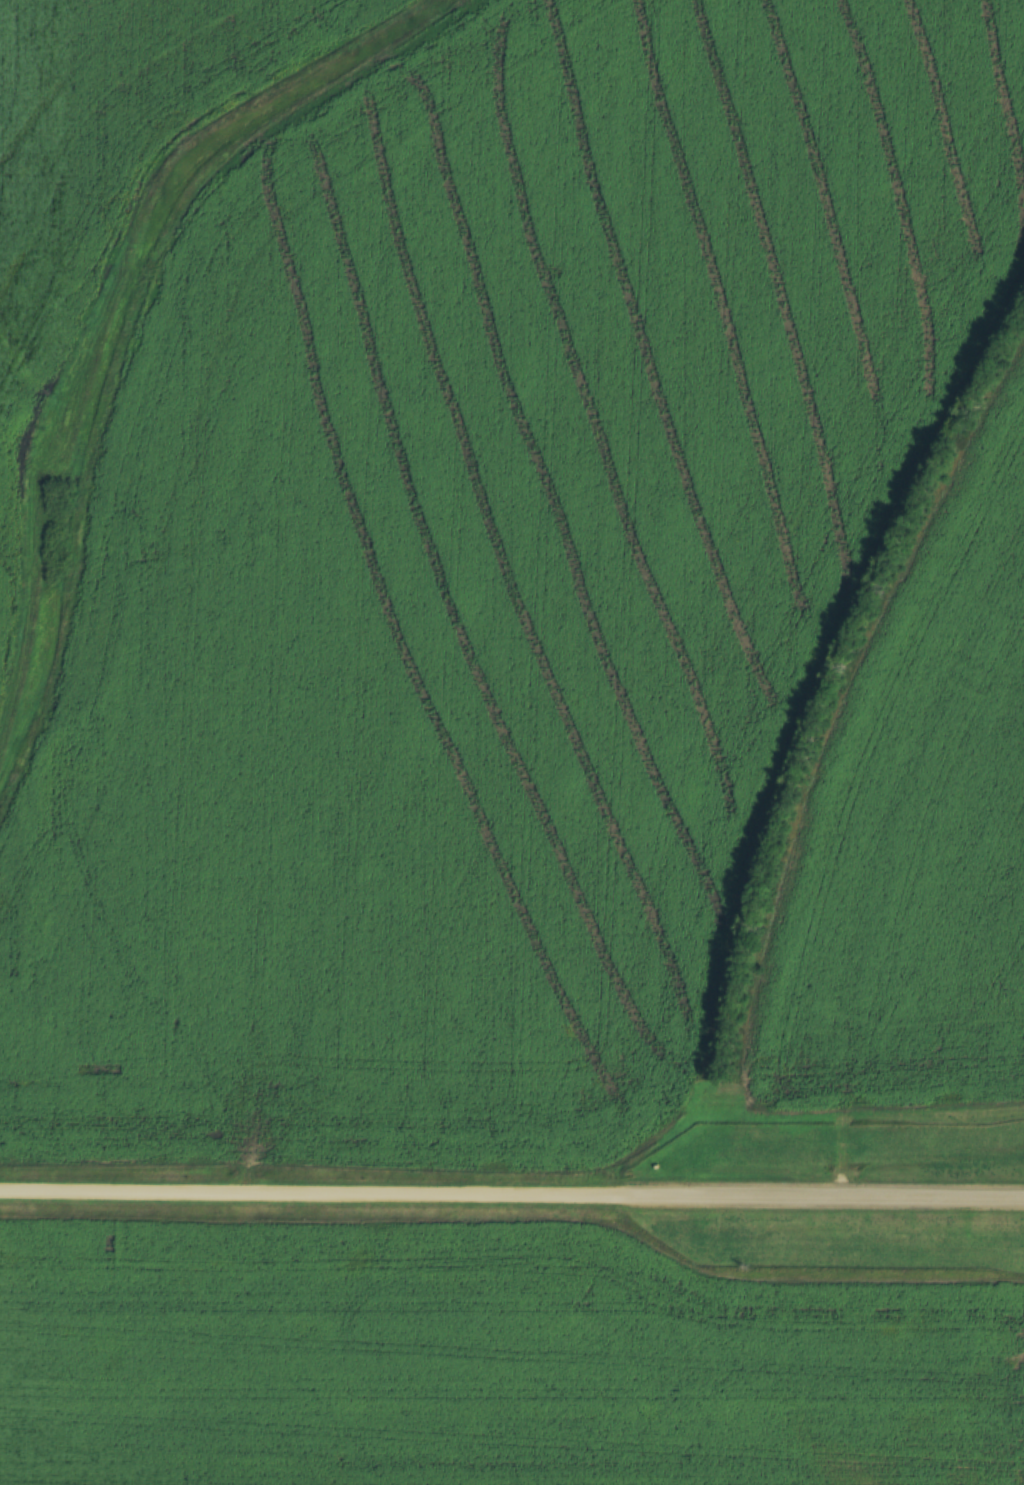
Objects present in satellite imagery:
road: (511, 1193)

